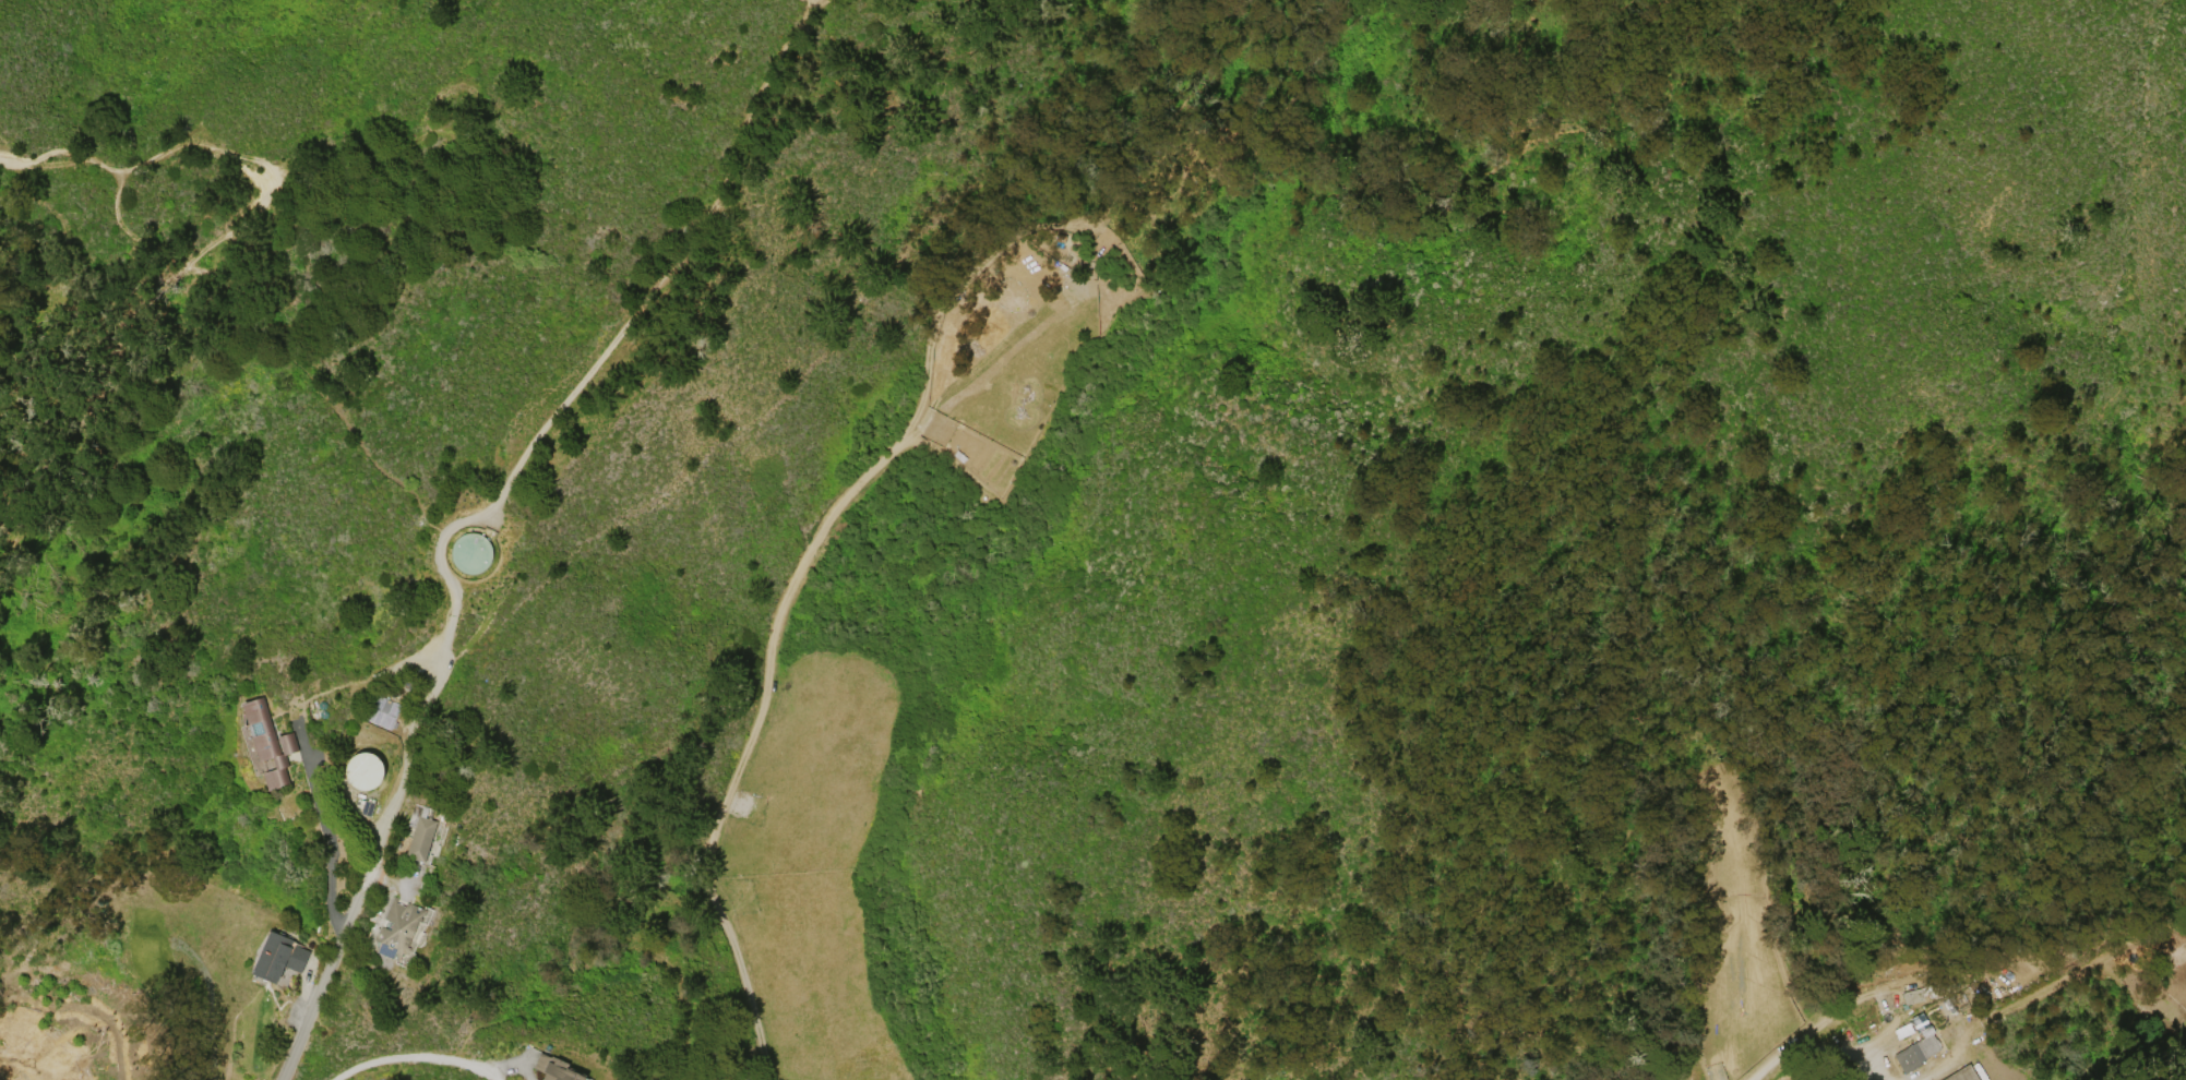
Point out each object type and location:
park: (1993, 1)
road: (60, 151)
road: (256, 207)
road: (964, 283)
road: (318, 389)
road: (521, 457)
building: (470, 552)
building: (381, 710)
road: (751, 740)
building: (263, 743)
building: (358, 769)
road: (323, 829)
building: (416, 836)
crop: (813, 866)
building: (398, 927)
building: (274, 955)
building: (1914, 997)
road: (310, 1009)
road: (1805, 1033)
building: (1918, 1053)
road: (411, 1055)
building: (549, 1067)
crop: (1792, 1073)
building: (1964, 1073)

